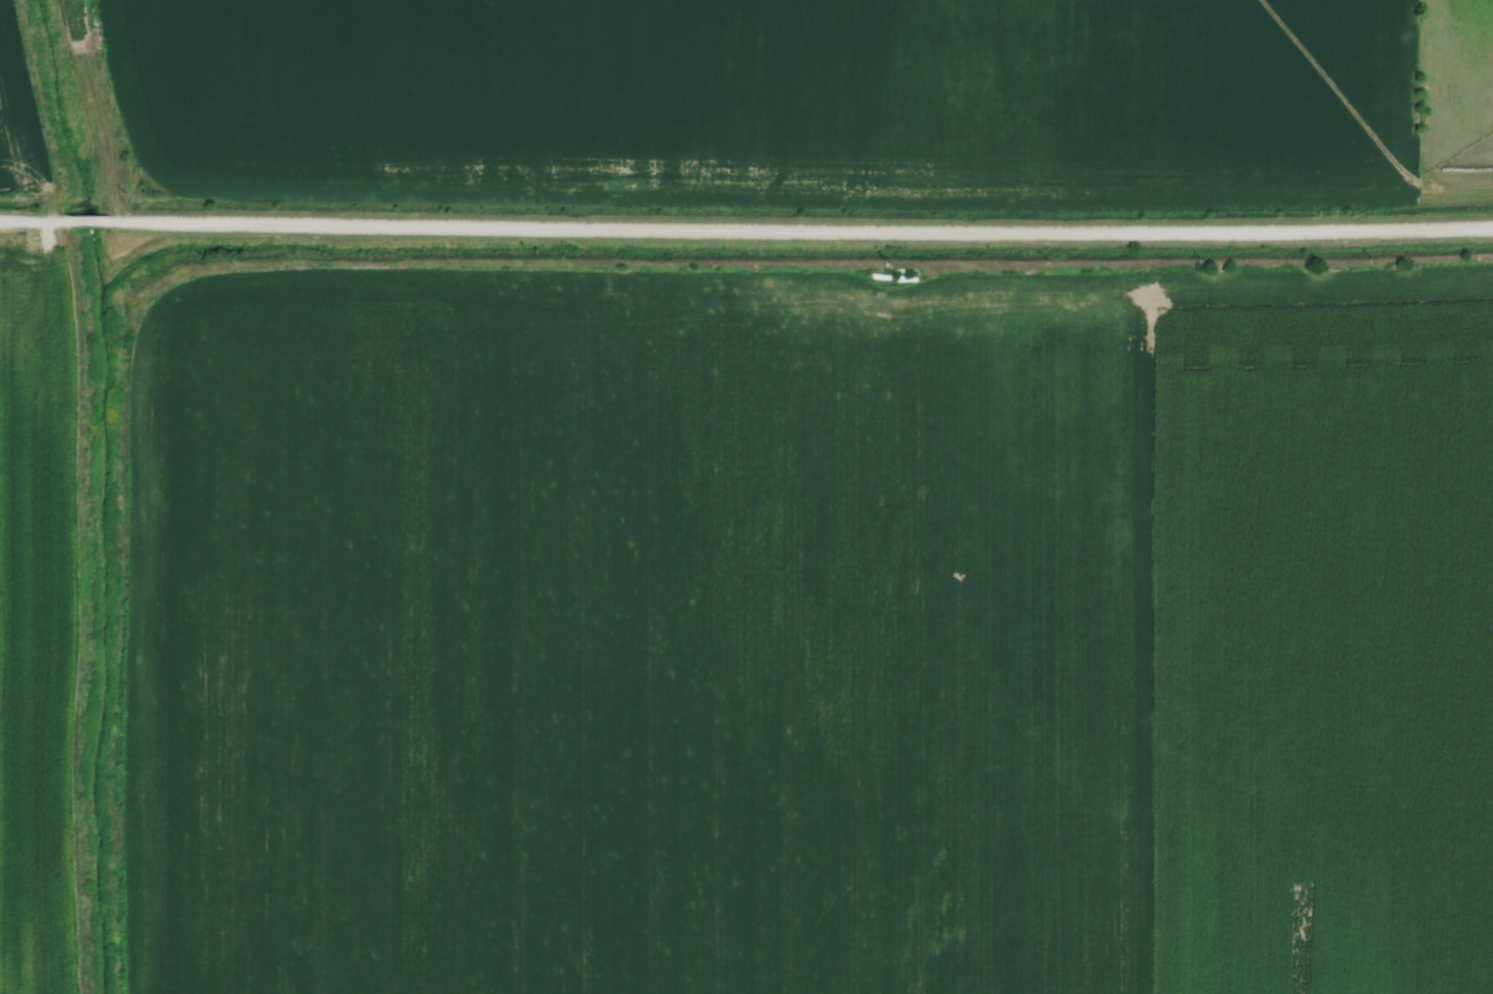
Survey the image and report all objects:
road: (34, 221)
road: (90, 221)
road: (802, 236)

